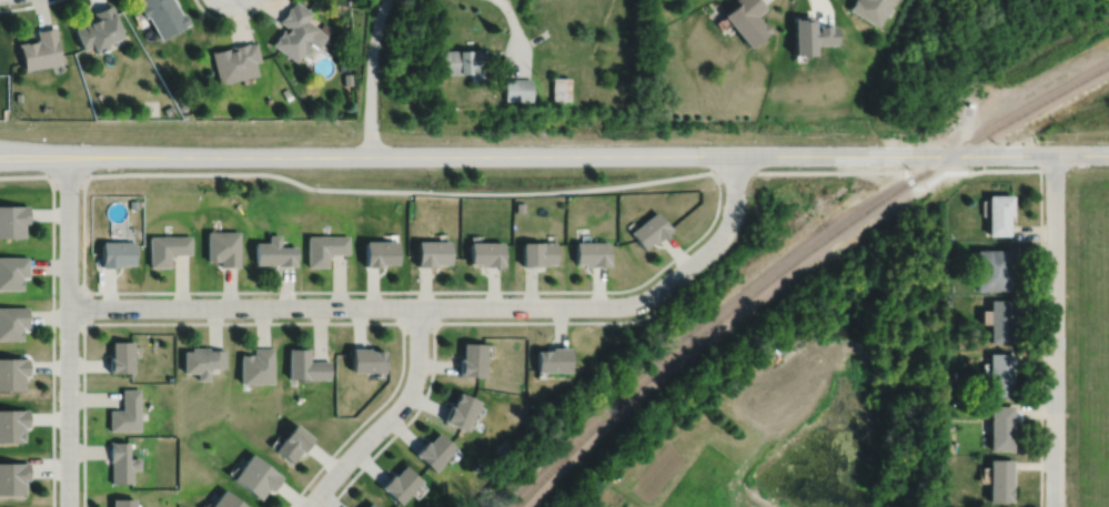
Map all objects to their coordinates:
road: (24, 4)
building: (869, 9)
building: (163, 14)
road: (228, 19)
building: (746, 20)
building: (99, 28)
building: (298, 31)
road: (514, 32)
building: (808, 33)
building: (659, 40)
building: (40, 49)
building: (235, 61)
building: (462, 61)
railway: (1099, 69)
road: (370, 77)
building: (347, 78)
building: (559, 88)
building: (516, 89)
building: (286, 93)
railway: (996, 126)
road: (554, 154)
road: (24, 174)
road: (58, 174)
road: (494, 192)
building: (132, 203)
building: (518, 205)
building: (997, 213)
building: (12, 216)
building: (649, 230)
building: (950, 236)
building: (222, 247)
building: (324, 247)
building: (165, 249)
building: (273, 252)
building: (380, 253)
building: (433, 253)
building: (486, 253)
building: (537, 253)
building: (591, 253)
building: (115, 254)
building: (12, 267)
building: (992, 270)
building: (949, 287)
road: (374, 291)
road: (1040, 296)
building: (948, 298)
road: (82, 305)
road: (447, 305)
building: (998, 316)
building: (12, 318)
road: (417, 321)
road: (263, 322)
road: (433, 325)
road: (1052, 329)
road: (68, 331)
railway: (699, 332)
road: (52, 348)
building: (118, 354)
building: (364, 356)
building: (471, 356)
building: (552, 356)
building: (200, 357)
building: (254, 363)
building: (303, 363)
building: (12, 369)
building: (999, 371)
building: (952, 373)
building: (980, 407)
building: (123, 408)
building: (460, 408)
road: (389, 417)
building: (12, 420)
building: (999, 425)
building: (290, 439)
building: (432, 448)
building: (119, 460)
building: (12, 474)
building: (253, 474)
building: (999, 478)
building: (397, 481)
building: (224, 499)
building: (120, 501)
building: (367, 504)

